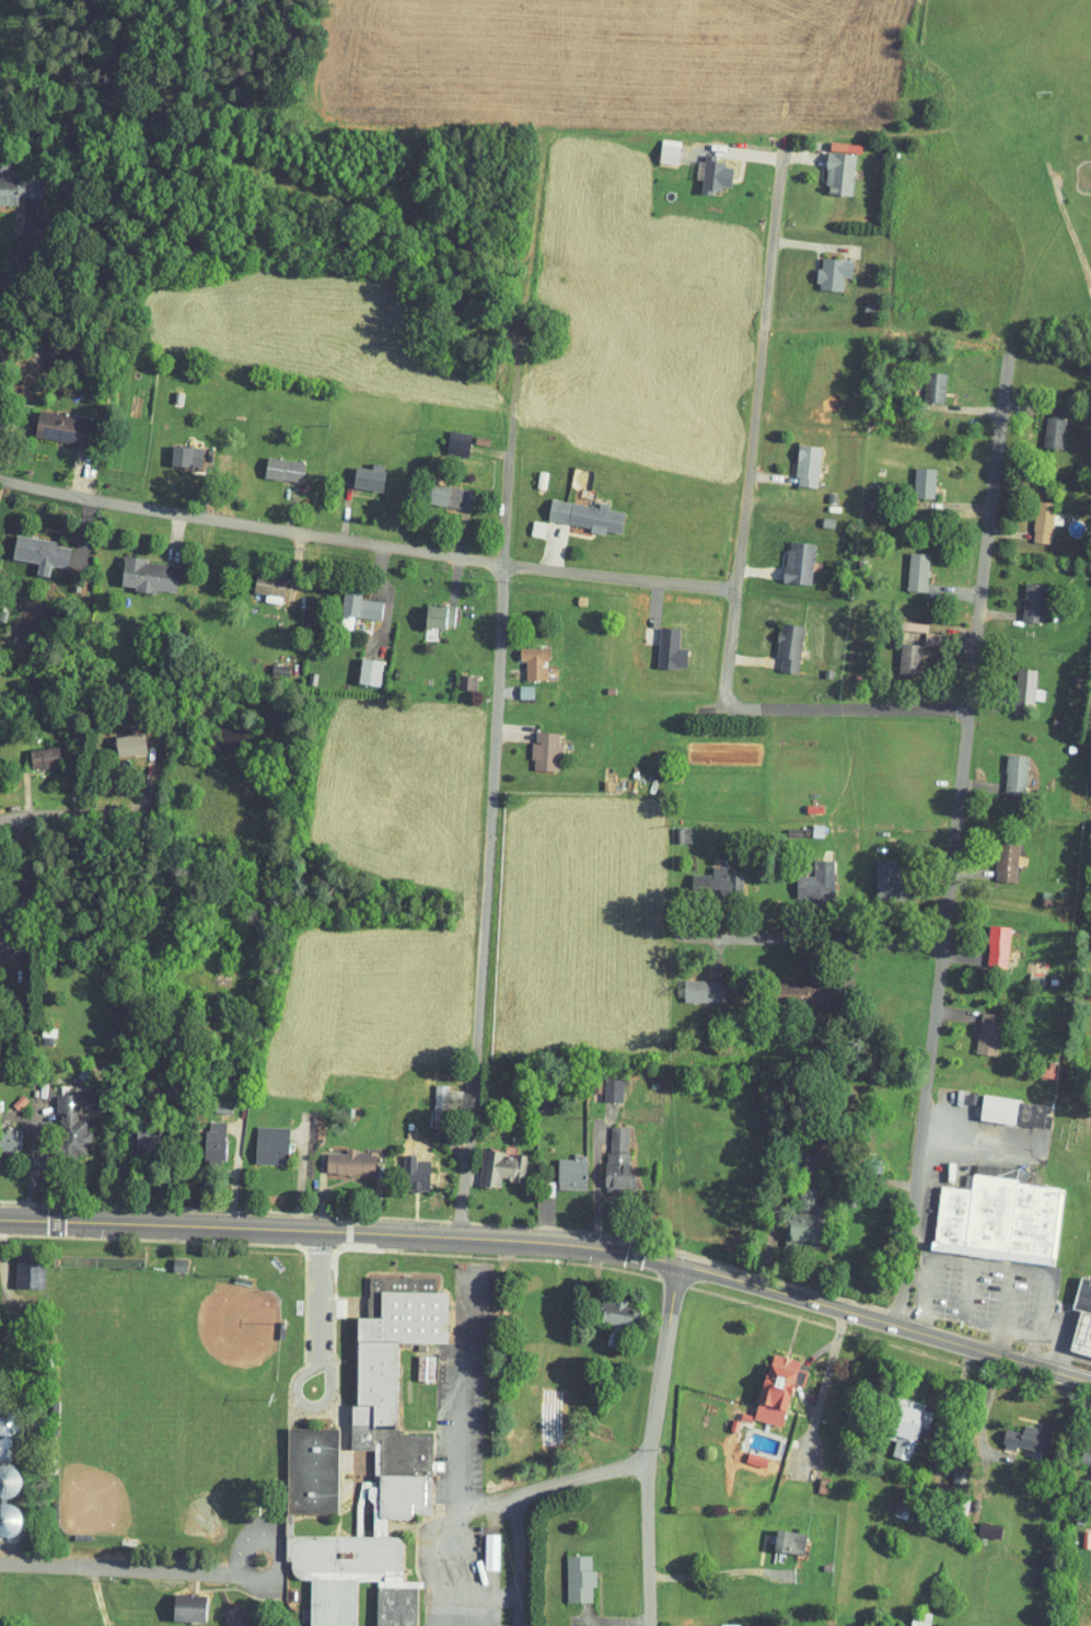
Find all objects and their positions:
building: (657, 145)
park: (967, 166)
building: (828, 168)
building: (704, 169)
building: (13, 182)
building: (822, 267)
road: (11, 314)
building: (922, 381)
building: (46, 420)
road: (753, 423)
building: (1042, 426)
building: (445, 437)
building: (174, 450)
building: (796, 460)
building: (271, 463)
building: (357, 471)
building: (912, 476)
building: (439, 489)
building: (574, 509)
building: (1030, 516)
road: (365, 544)
building: (28, 546)
building: (787, 556)
building: (905, 566)
building: (137, 569)
building: (258, 580)
building: (1021, 597)
building: (346, 603)
building: (428, 610)
building: (903, 621)
building: (777, 641)
building: (659, 644)
building: (897, 653)
building: (522, 656)
building: (358, 666)
building: (454, 676)
building: (1012, 681)
road: (499, 685)
building: (513, 685)
road: (814, 708)
building: (118, 736)
building: (534, 743)
building: (33, 750)
building: (1003, 768)
road: (78, 819)
road: (956, 823)
building: (995, 853)
building: (705, 875)
building: (805, 875)
building: (882, 877)
building: (986, 938)
road: (800, 941)
building: (690, 983)
building: (788, 987)
building: (976, 1026)
building: (600, 1085)
building: (427, 1094)
building: (987, 1102)
building: (1021, 1107)
building: (58, 1119)
building: (137, 1130)
building: (3, 1132)
building: (202, 1133)
park: (1071, 1133)
building: (258, 1138)
building: (606, 1151)
building: (338, 1155)
building: (488, 1161)
building: (404, 1163)
building: (560, 1163)
building: (999, 1165)
building: (987, 1212)
building: (796, 1213)
road: (554, 1245)
building: (16, 1265)
road: (318, 1296)
building: (606, 1304)
building: (1077, 1312)
park: (202, 1340)
building: (413, 1361)
building: (427, 1369)
road: (299, 1377)
building: (766, 1382)
road: (463, 1389)
parking lot: (463, 1391)
building: (897, 1419)
building: (0, 1420)
building: (1017, 1431)
building: (0, 1440)
road: (646, 1443)
building: (1081, 1449)
park: (134, 1458)
building: (404, 1467)
building: (4, 1473)
road: (580, 1476)
road: (488, 1502)
building: (4, 1513)
building: (778, 1534)
building: (479, 1544)
road: (276, 1545)
road: (429, 1548)
parking lot: (465, 1558)
road: (515, 1560)
road: (706, 1567)
road: (118, 1568)
building: (567, 1571)
road: (479, 1596)
building: (178, 1601)
building: (191, 1605)
road: (444, 1611)
parking lot: (463, 1611)
building: (222, 1612)
road: (480, 1612)
building: (908, 1612)
building: (239, 1616)

